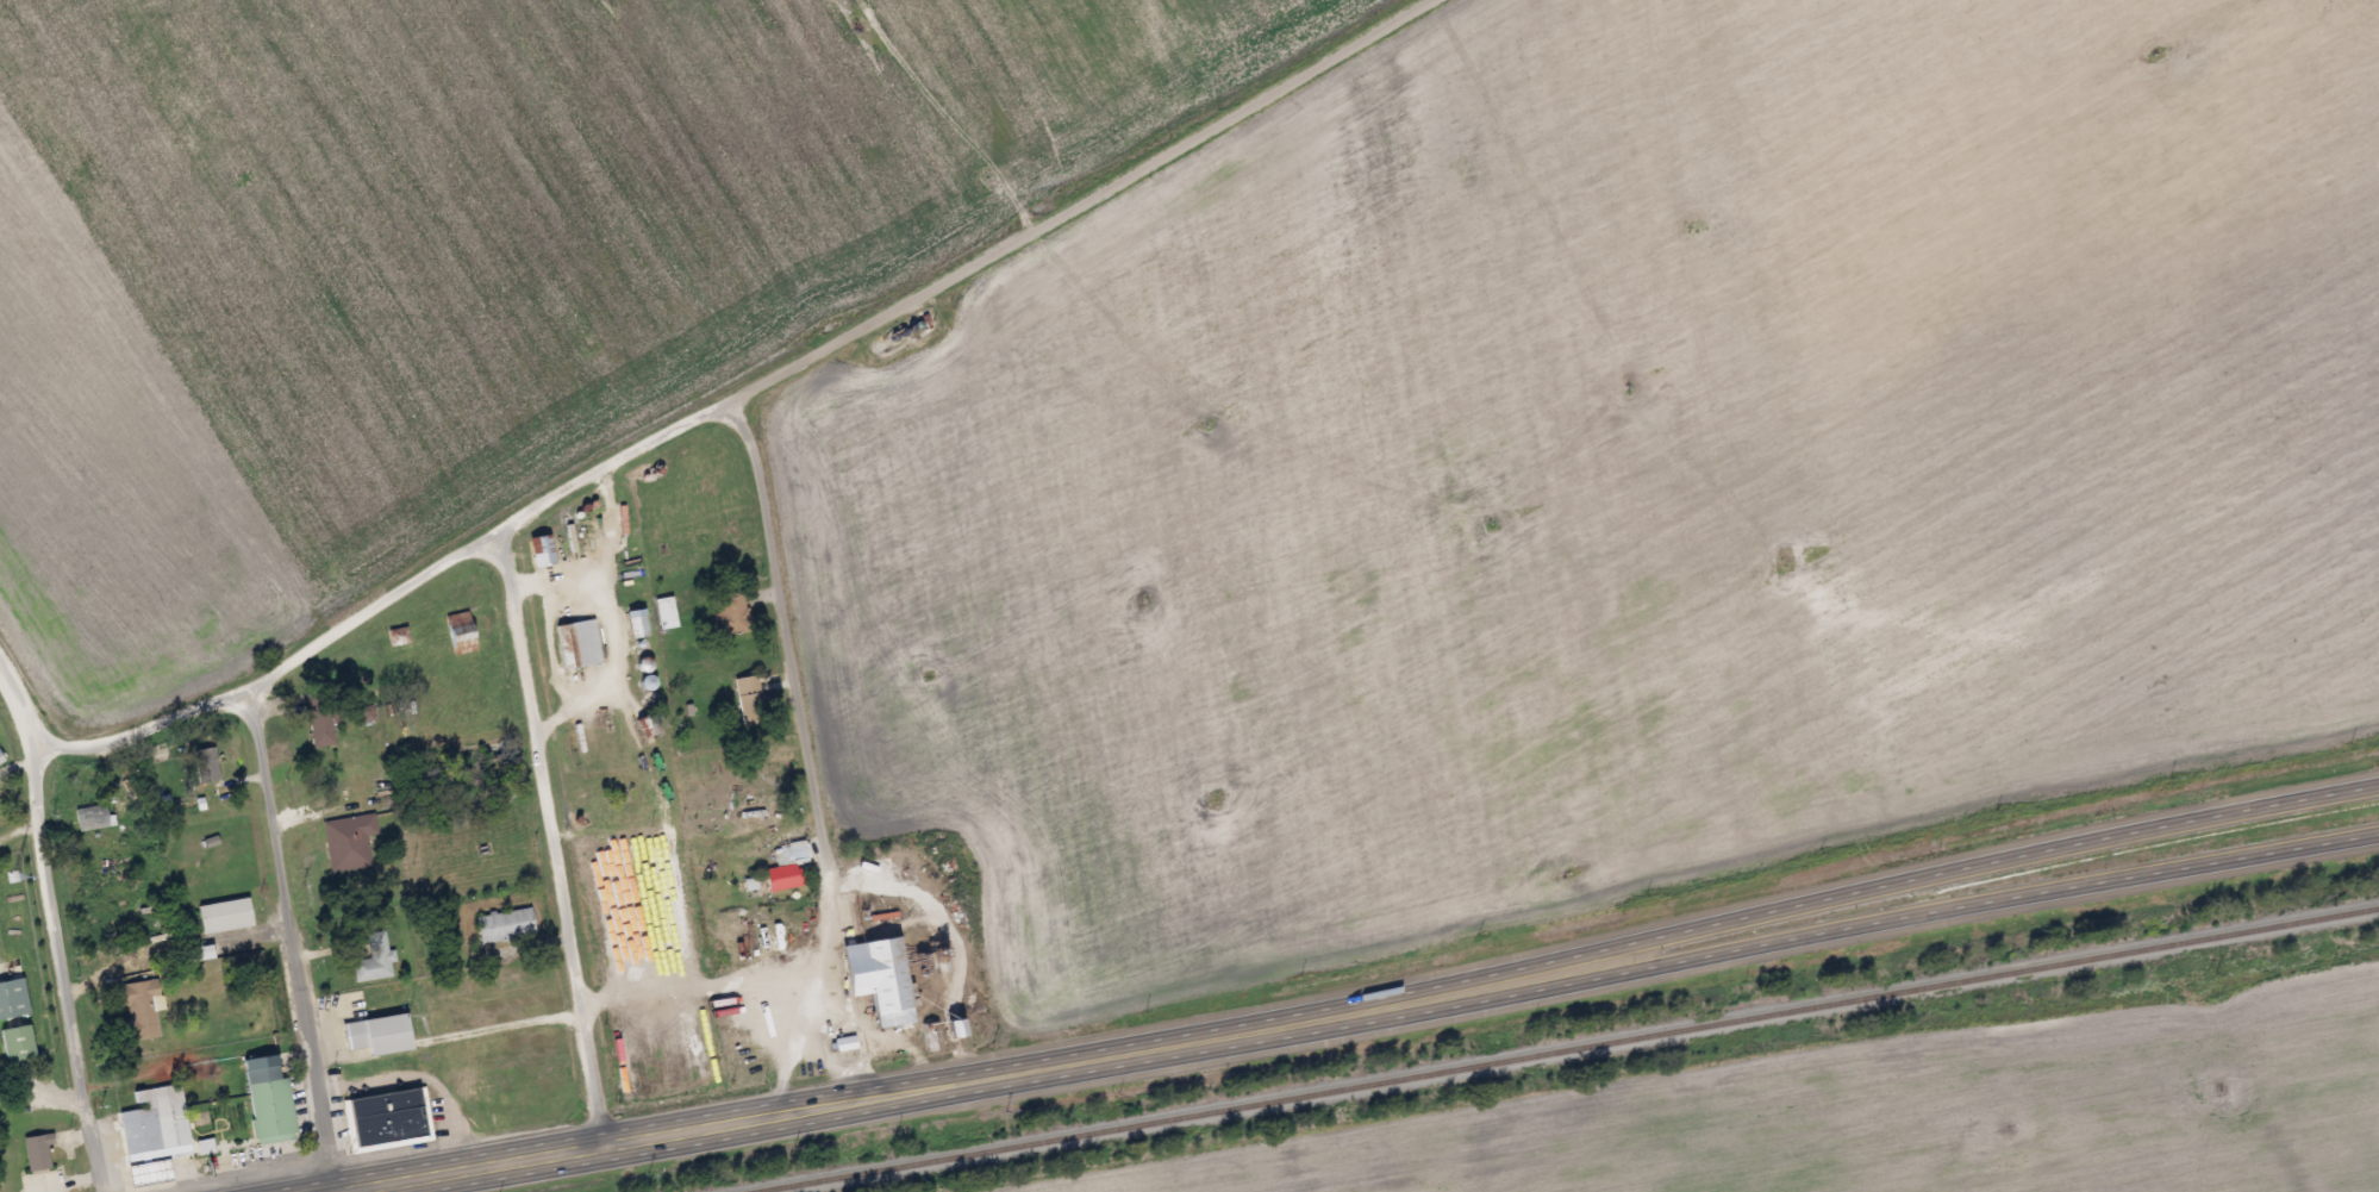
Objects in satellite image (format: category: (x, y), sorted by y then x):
road: (735, 399)
building: (623, 517)
building: (544, 550)
building: (667, 612)
building: (732, 613)
building: (639, 623)
building: (462, 632)
building: (398, 636)
building: (579, 644)
building: (751, 700)
road: (19, 704)
building: (321, 719)
building: (2, 756)
road: (806, 760)
building: (205, 766)
building: (94, 817)
road: (551, 838)
building: (350, 841)
road: (1980, 861)
building: (788, 866)
road: (1985, 907)
building: (226, 915)
building: (507, 925)
building: (166, 936)
road: (292, 942)
building: (375, 959)
road: (61, 968)
building: (886, 978)
building: (14, 998)
building: (143, 1009)
building: (382, 1034)
building: (20, 1044)
railway: (1566, 1050)
road: (963, 1084)
building: (274, 1110)
building: (389, 1119)
building: (158, 1134)
building: (39, 1152)

